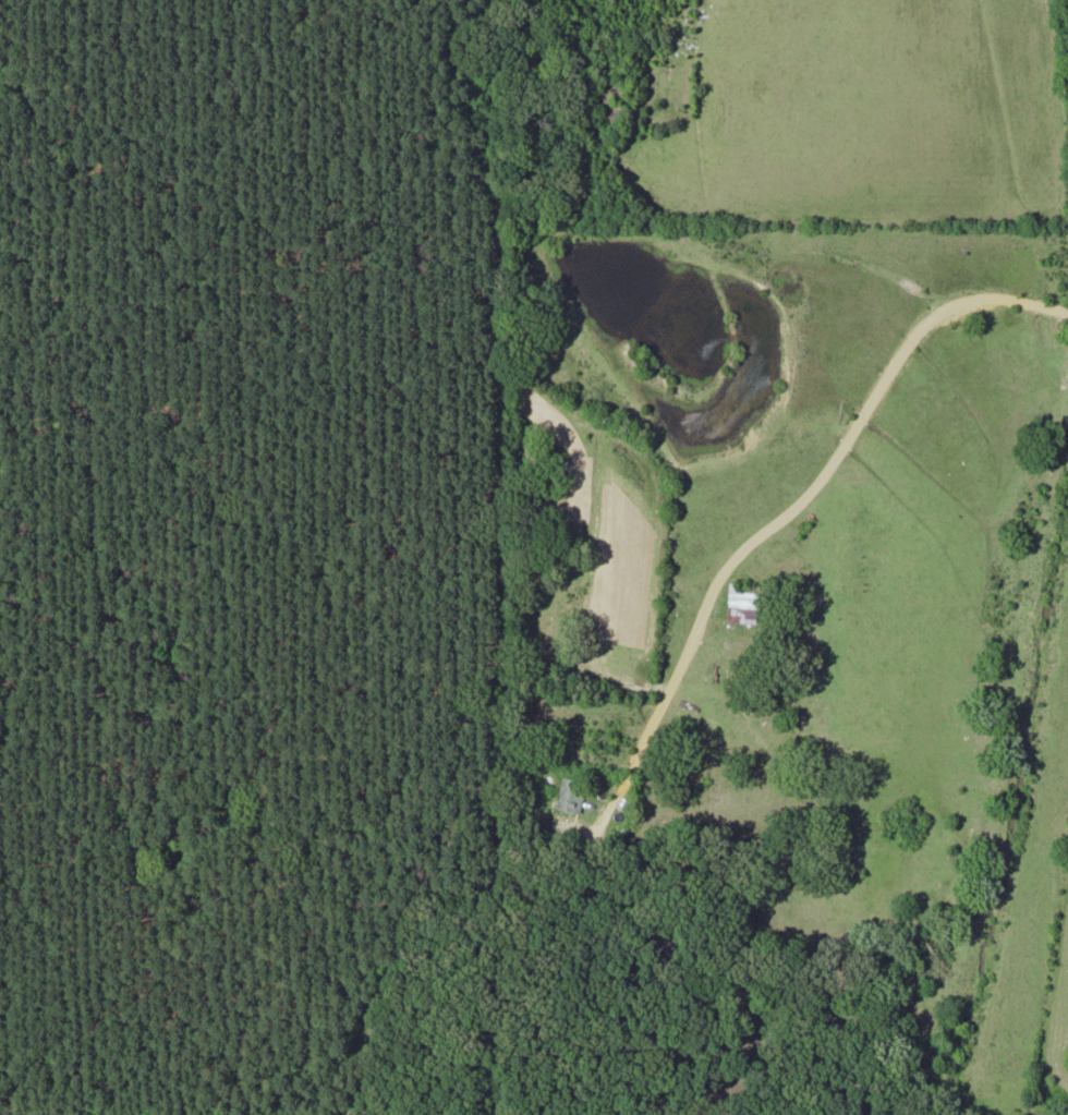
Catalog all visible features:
building: (571, 793)

